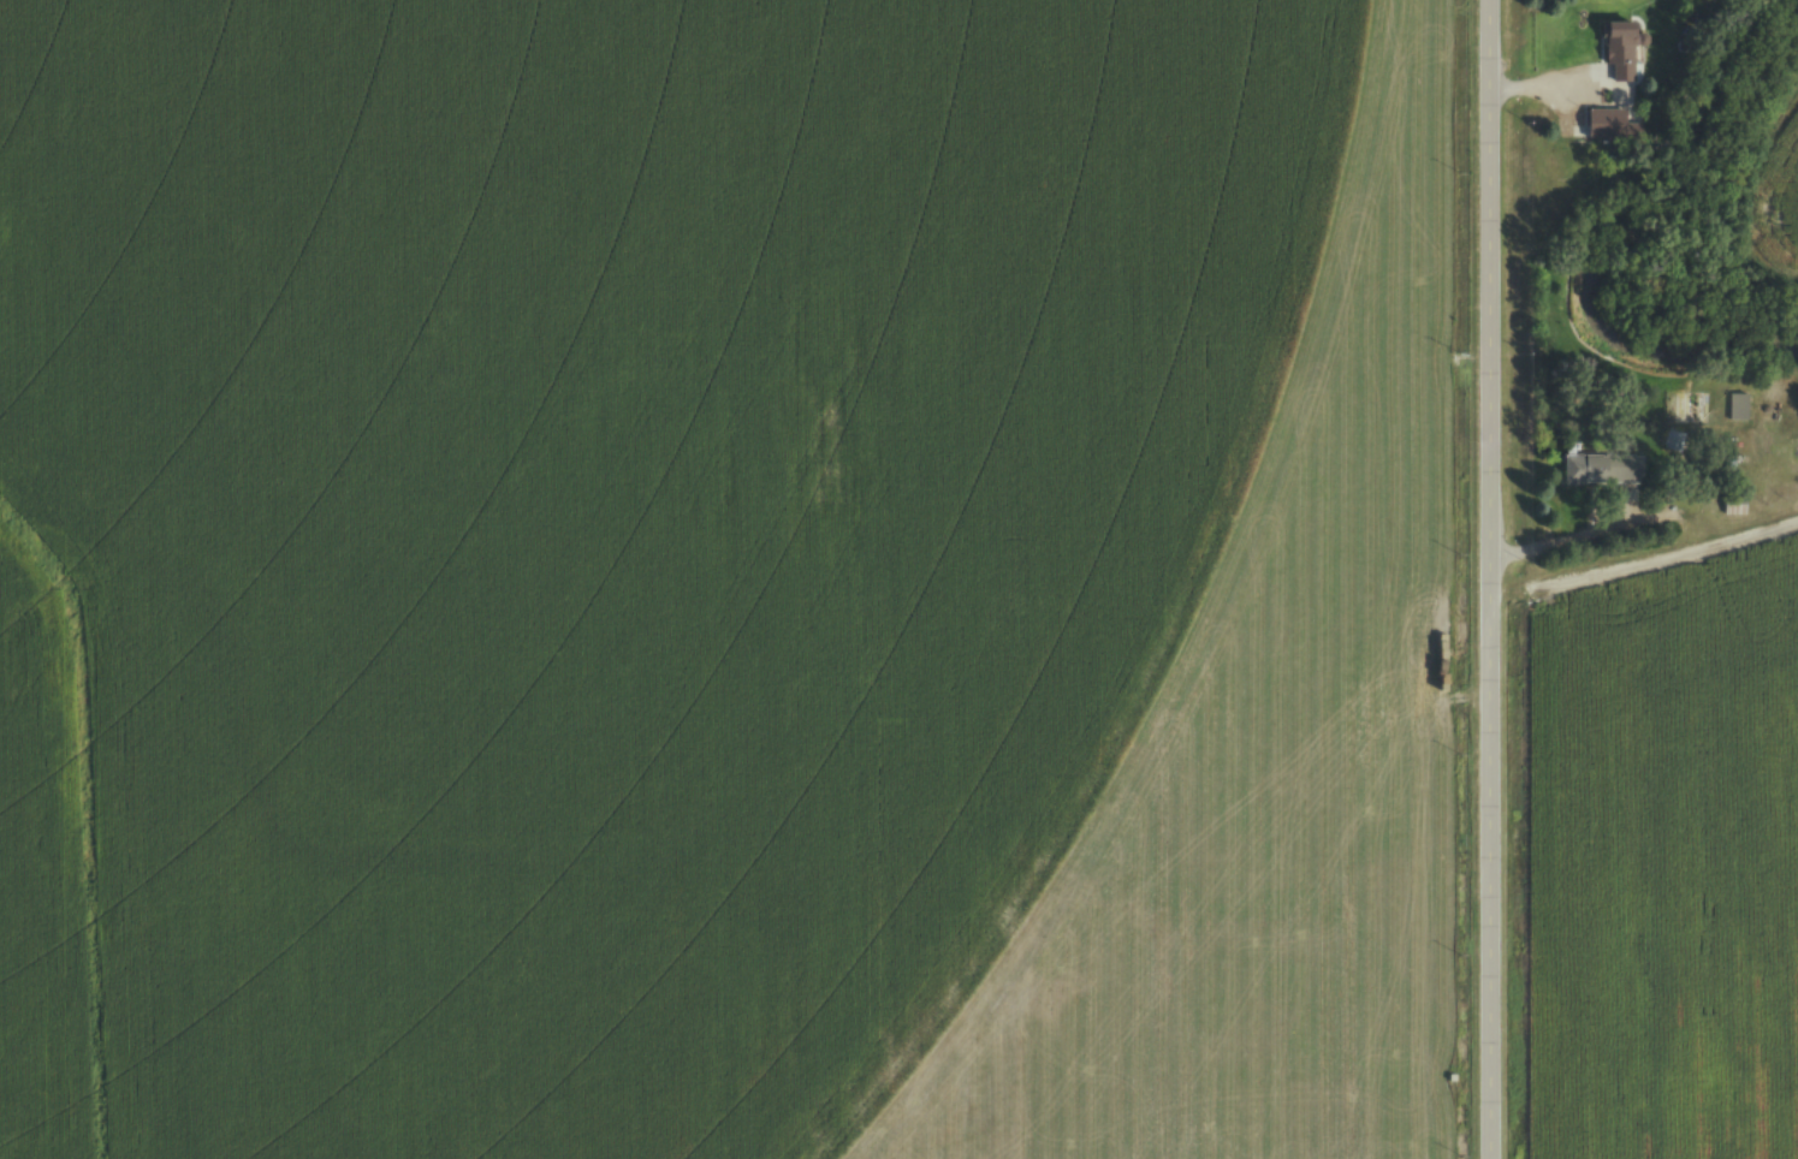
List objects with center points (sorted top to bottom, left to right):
building: (1619, 49)
building: (1607, 124)
building: (1673, 440)
building: (1603, 469)
road: (1562, 540)
road: (1490, 579)

